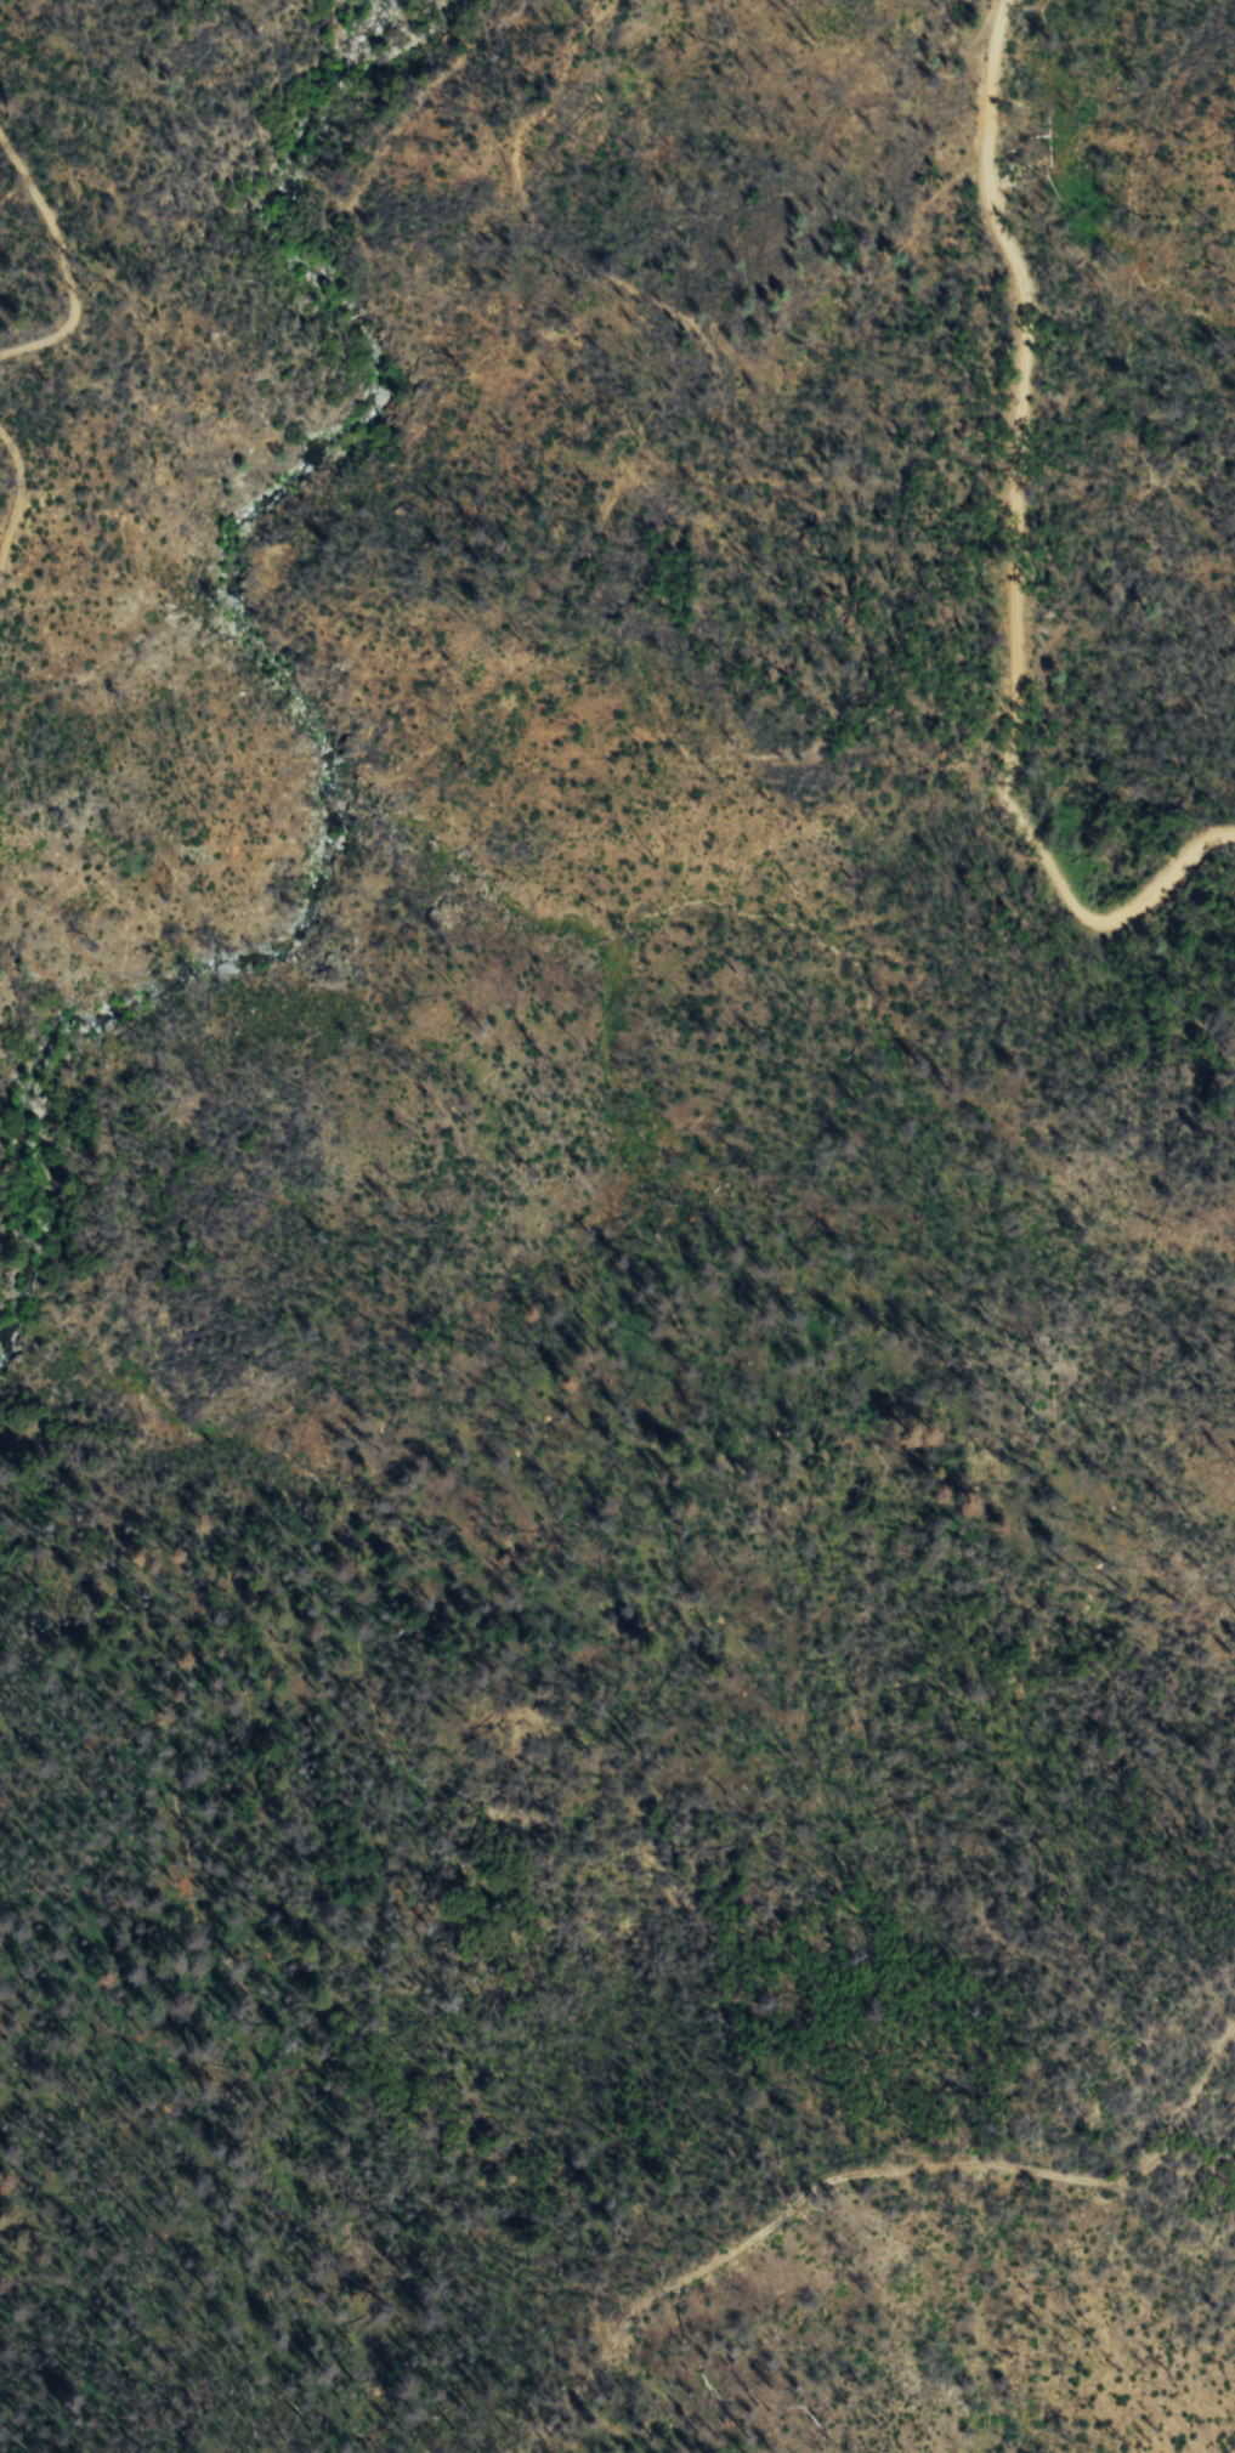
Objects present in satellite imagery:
road: (64, 260)
road: (17, 493)
road: (1019, 549)

